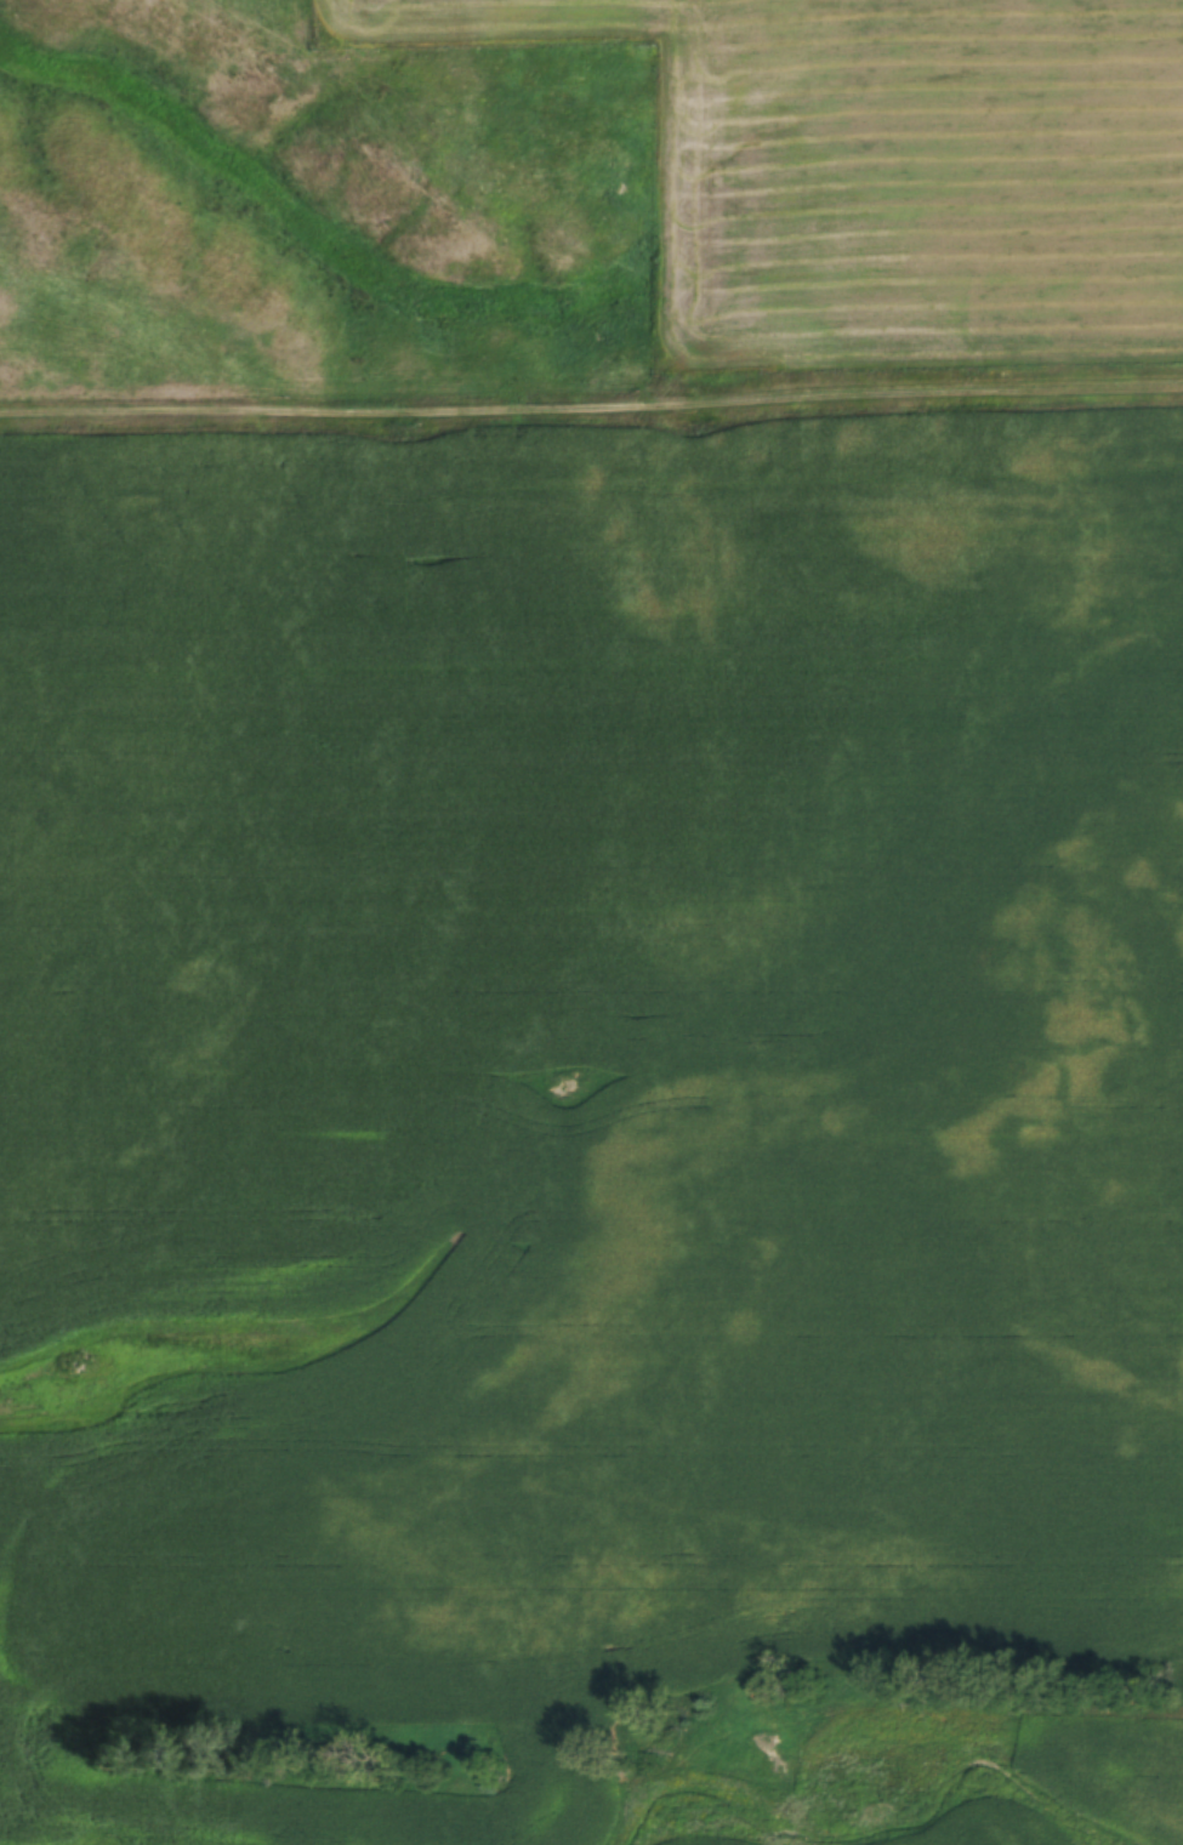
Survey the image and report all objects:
road: (591, 399)

